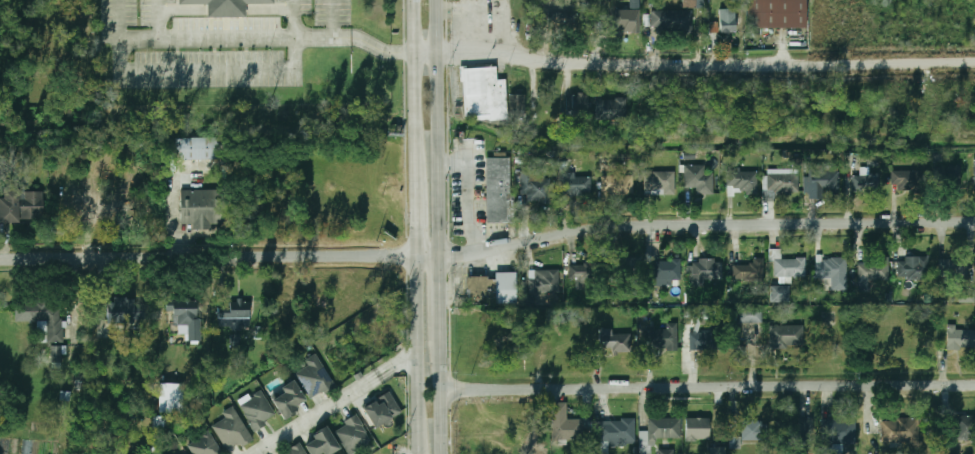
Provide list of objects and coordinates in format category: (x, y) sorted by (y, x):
building: (693, 4)
building: (224, 7)
building: (777, 13)
building: (627, 20)
building: (672, 21)
building: (569, 23)
building: (728, 24)
road: (156, 25)
road: (293, 40)
road: (694, 61)
road: (415, 89)
building: (484, 94)
building: (577, 102)
building: (518, 105)
building: (611, 108)
road: (440, 127)
building: (196, 149)
building: (974, 173)
building: (701, 179)
building: (784, 180)
building: (909, 180)
building: (743, 181)
building: (823, 181)
building: (865, 181)
building: (659, 183)
building: (617, 185)
building: (534, 186)
building: (577, 186)
building: (498, 190)
building: (75, 191)
road: (469, 194)
building: (21, 207)
building: (108, 208)
building: (198, 209)
road: (416, 217)
road: (488, 247)
building: (952, 265)
building: (788, 266)
building: (831, 268)
building: (913, 268)
building: (708, 270)
building: (874, 270)
building: (666, 271)
building: (627, 272)
building: (748, 272)
building: (585, 276)
building: (544, 281)
building: (478, 285)
building: (506, 287)
road: (443, 293)
building: (780, 294)
building: (966, 296)
building: (126, 311)
building: (184, 313)
building: (688, 313)
building: (751, 315)
building: (43, 318)
building: (233, 319)
building: (787, 336)
building: (662, 337)
building: (961, 338)
building: (614, 340)
building: (705, 340)
road: (417, 354)
building: (56, 357)
road: (397, 364)
building: (314, 377)
road: (709, 386)
road: (444, 393)
building: (171, 398)
building: (289, 398)
building: (382, 409)
building: (257, 410)
road: (317, 415)
building: (565, 424)
building: (965, 428)
building: (231, 429)
building: (697, 429)
building: (802, 430)
building: (838, 431)
building: (903, 431)
building: (659, 432)
building: (755, 432)
building: (614, 433)
building: (353, 434)
building: (321, 442)
building: (735, 442)
building: (204, 445)
building: (297, 450)
building: (718, 451)
building: (665, 452)
building: (181, 453)

